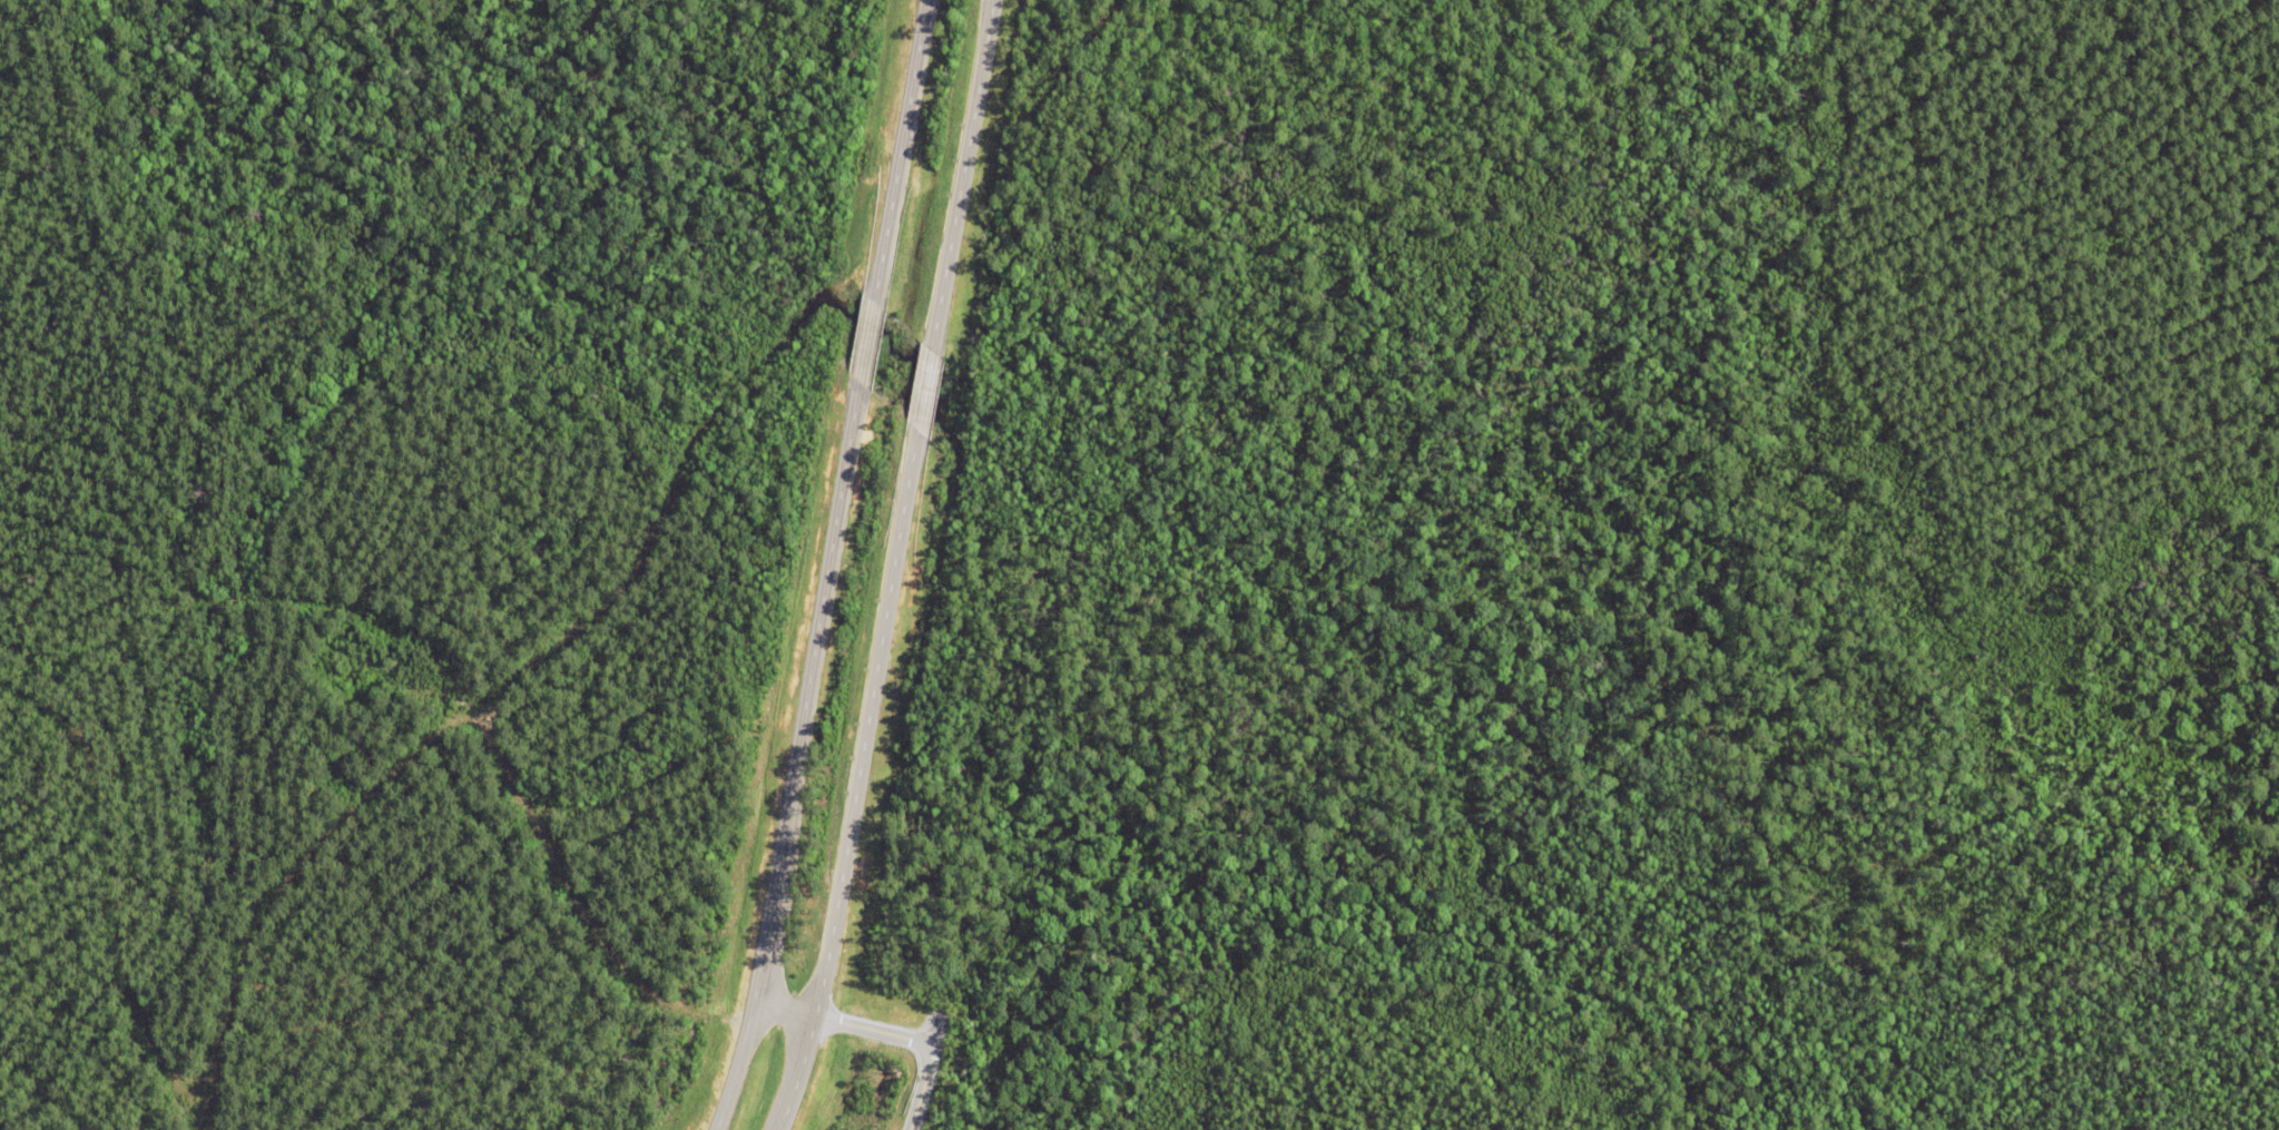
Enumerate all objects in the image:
road: (1112, 39)
road: (826, 567)
road: (892, 567)
road: (488, 702)
road: (619, 812)
road: (599, 939)
road: (884, 1034)

